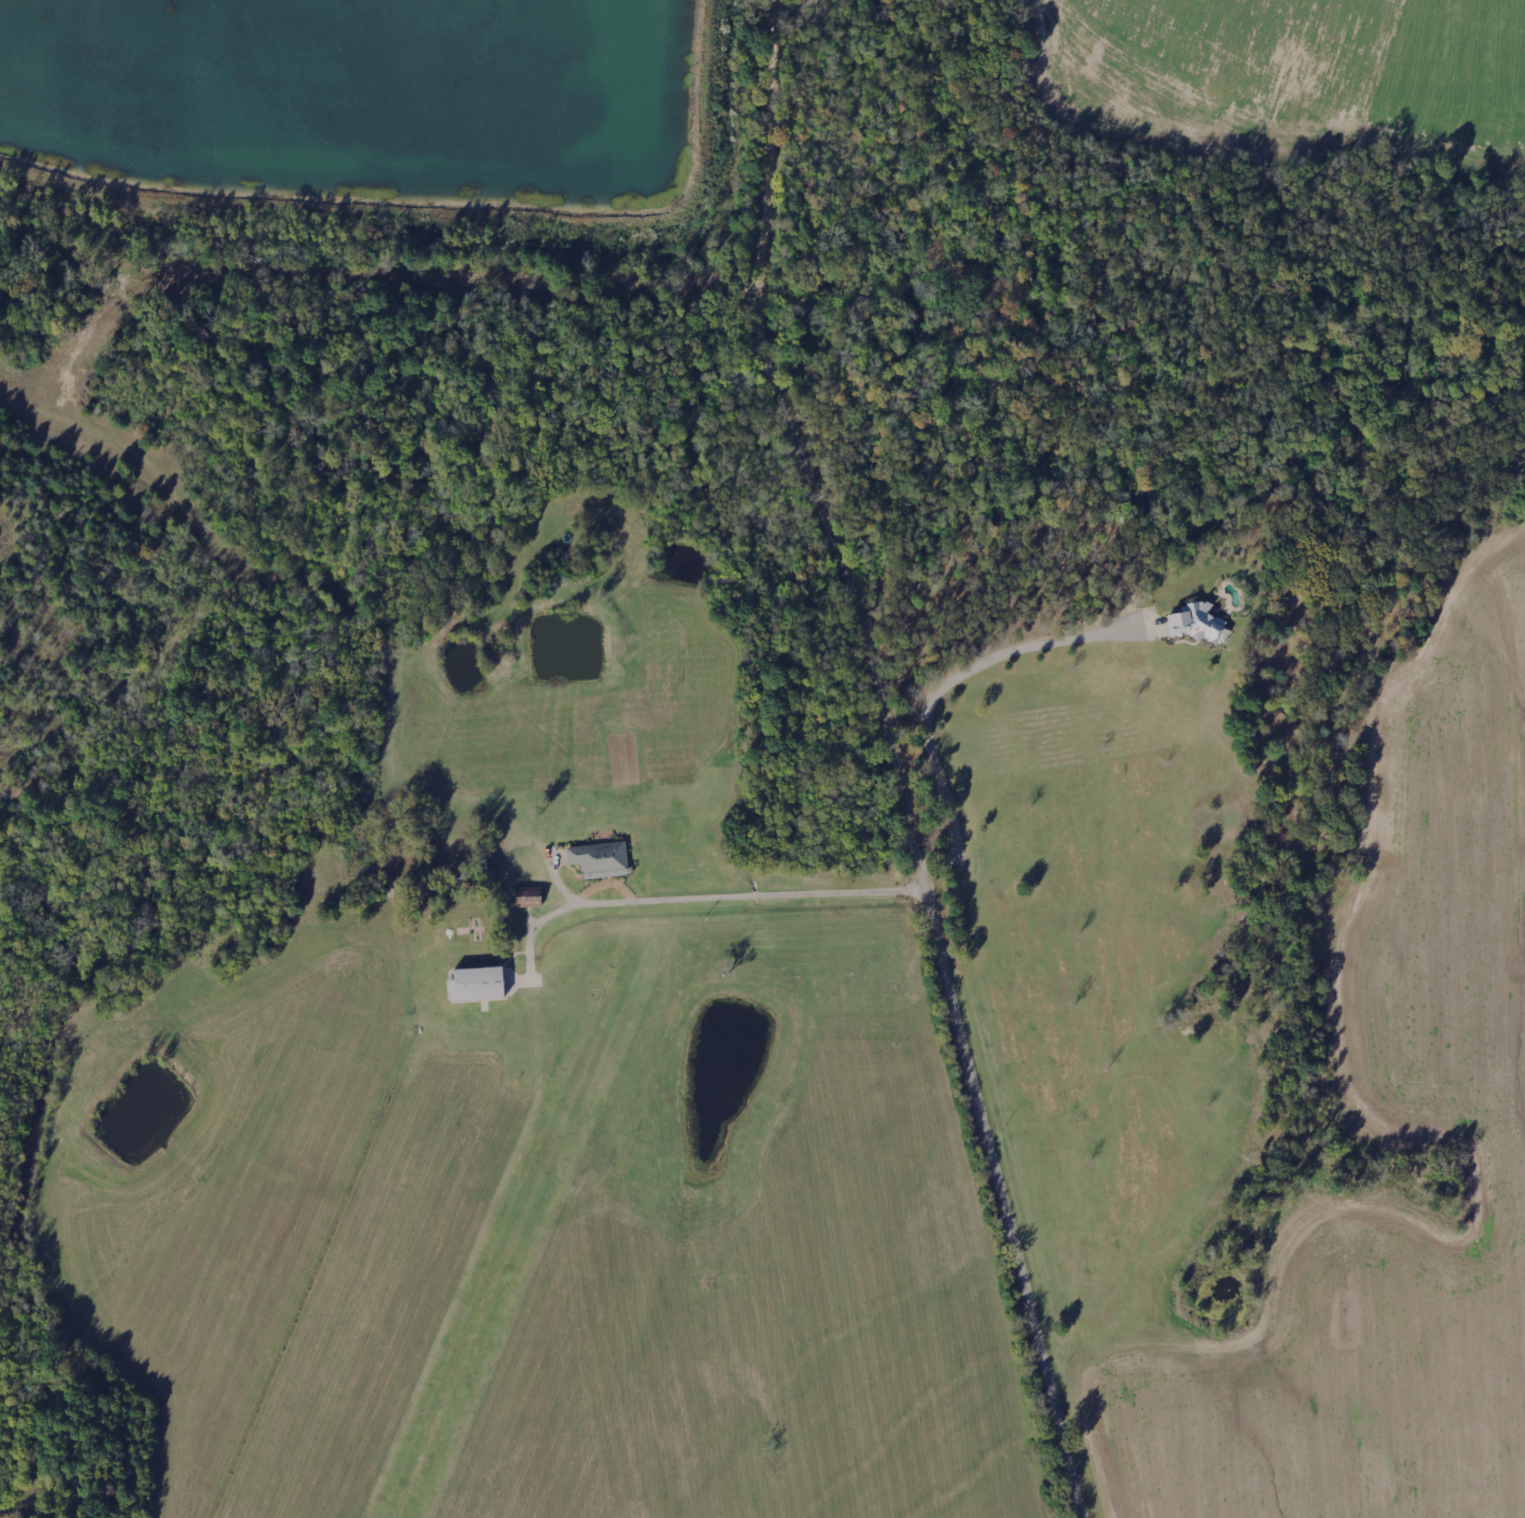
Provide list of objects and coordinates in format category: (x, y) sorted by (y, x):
building: (1193, 624)
road: (948, 681)
road: (895, 764)
building: (598, 860)
building: (526, 898)
building: (474, 984)

